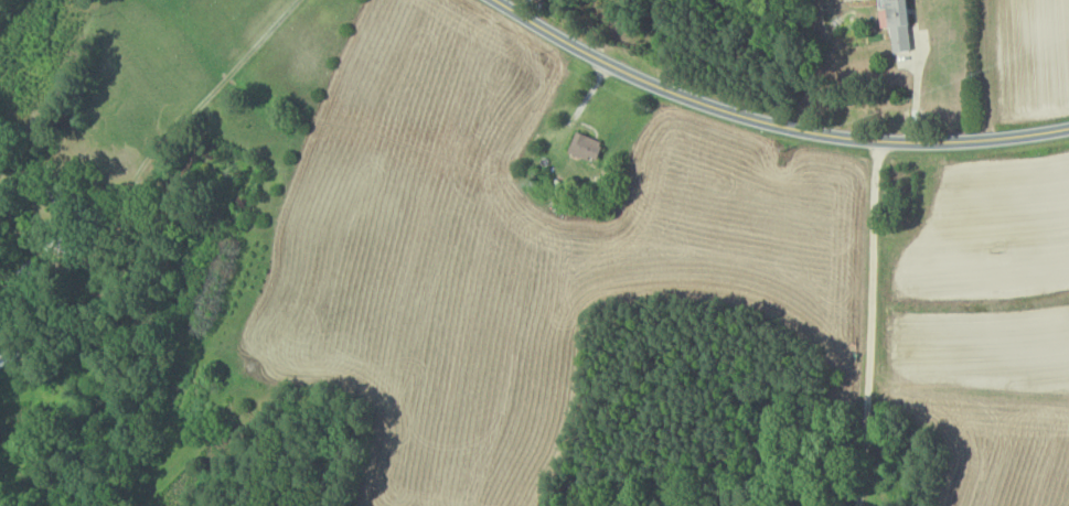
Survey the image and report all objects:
building: (895, 24)
road: (916, 87)
road: (767, 127)
building: (582, 146)
road: (869, 325)

